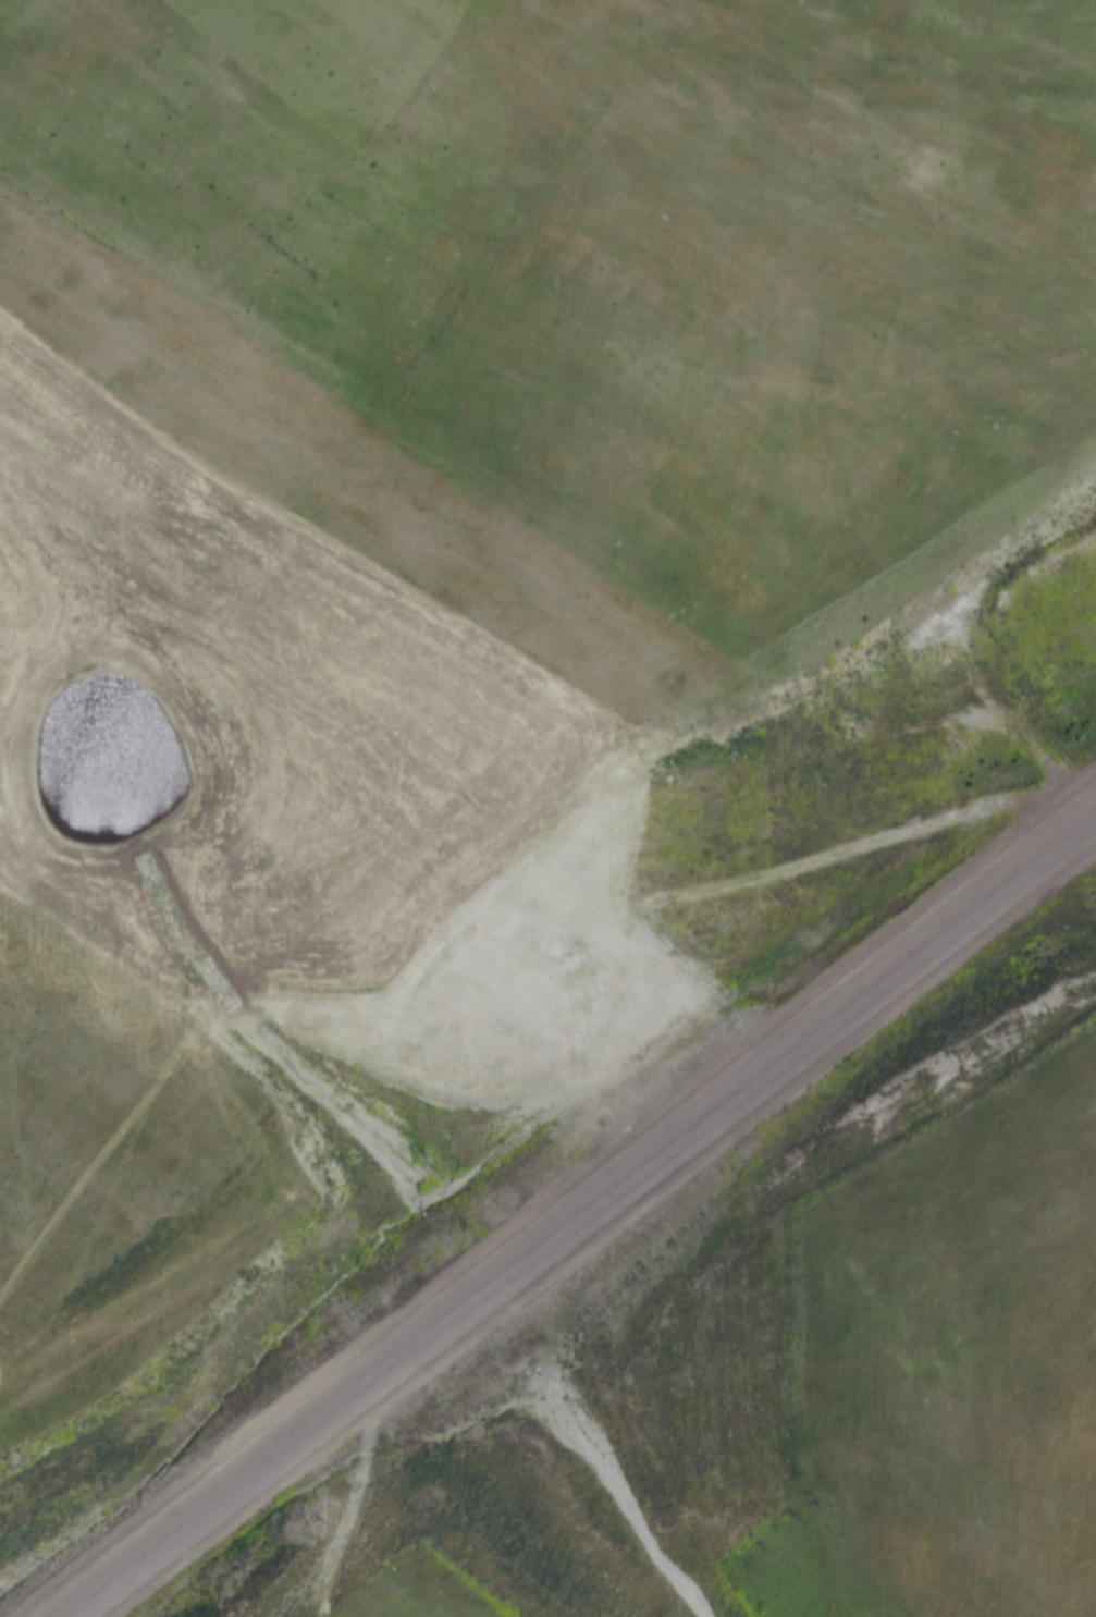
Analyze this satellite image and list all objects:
quarry: (547, 808)

